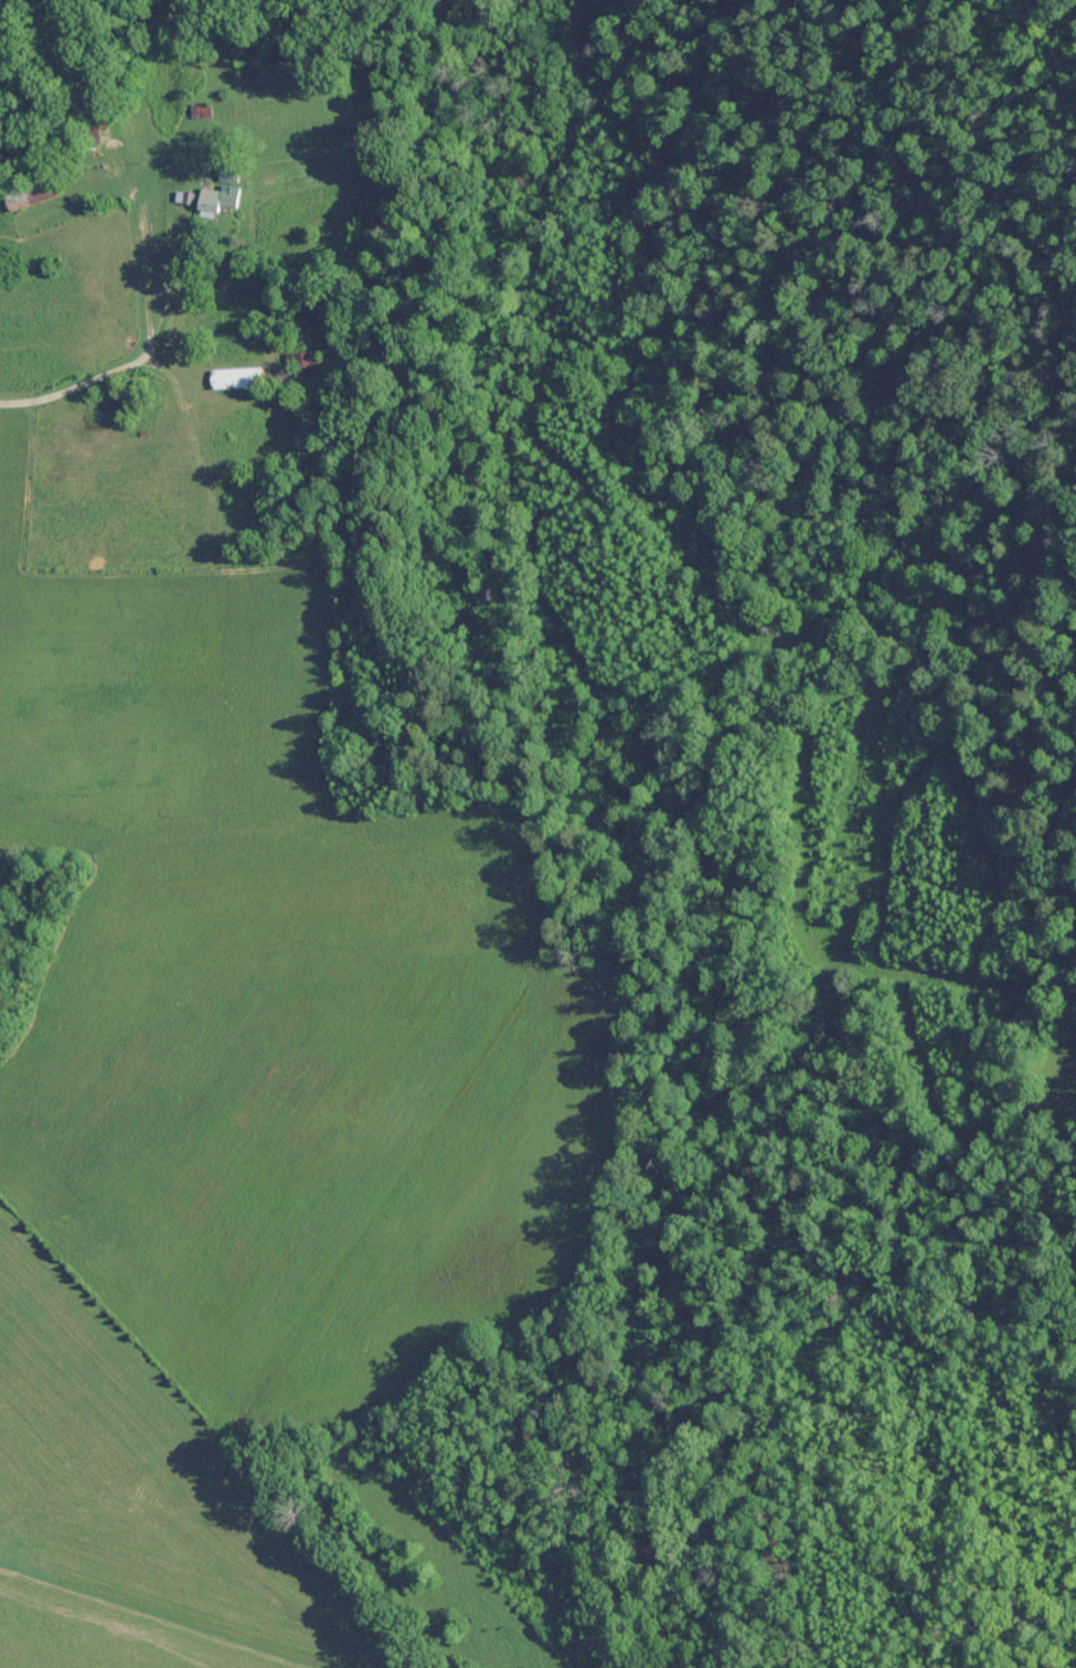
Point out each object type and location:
building: (198, 110)
building: (223, 178)
building: (205, 197)
building: (22, 199)
road: (125, 361)
building: (302, 371)
building: (232, 377)

